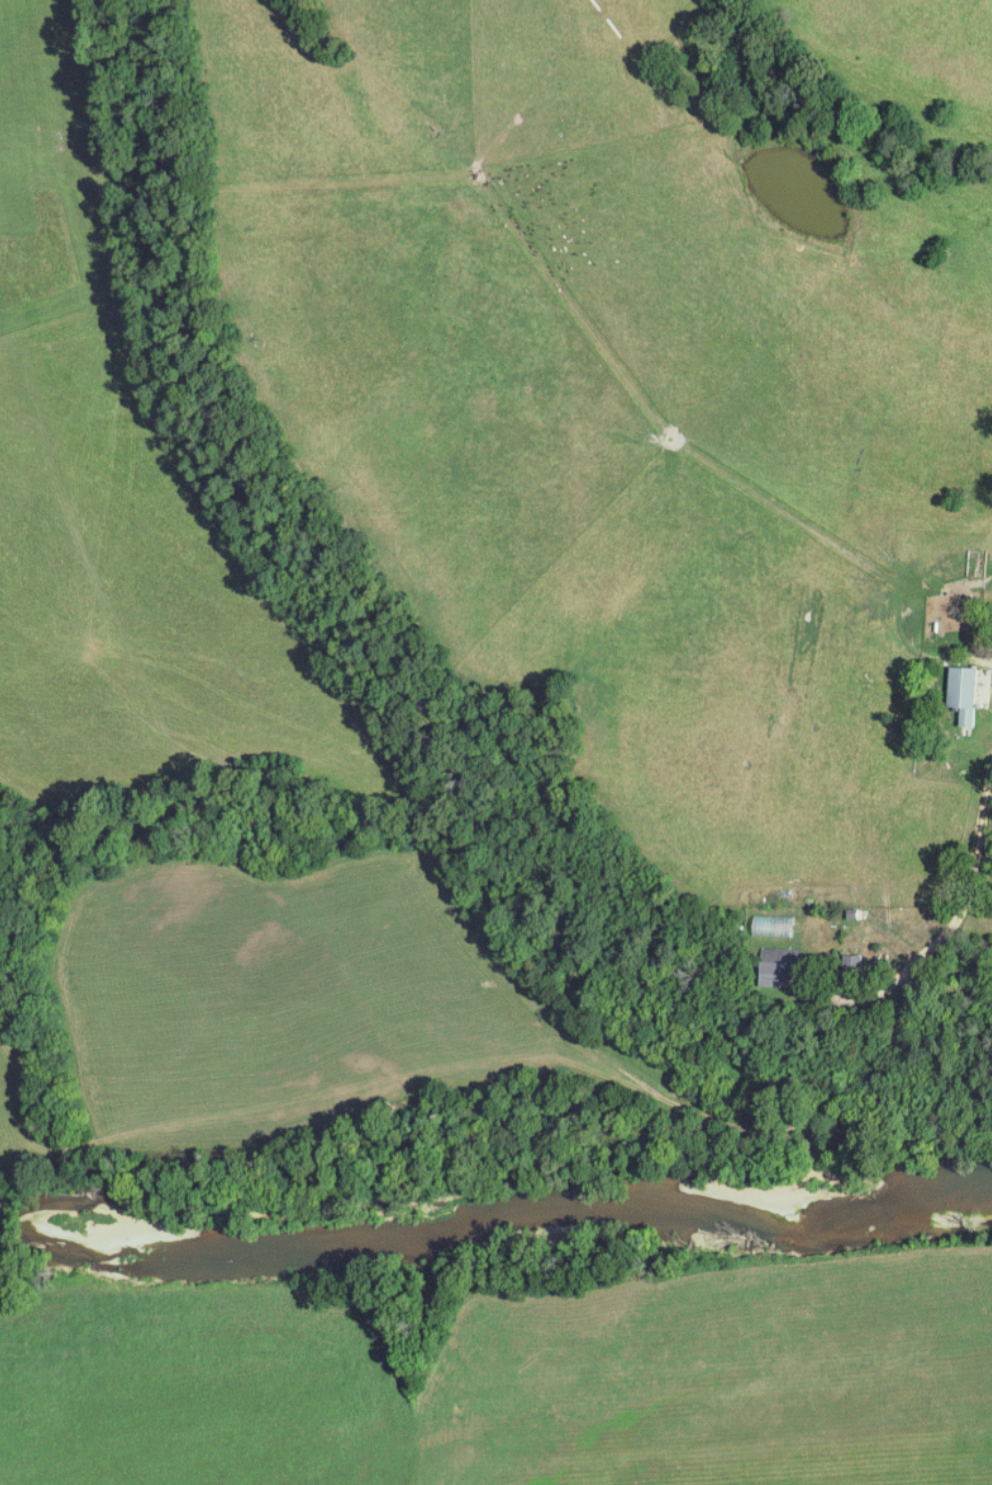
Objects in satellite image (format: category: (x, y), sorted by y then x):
building: (967, 693)
road: (957, 921)
river: (496, 1214)

